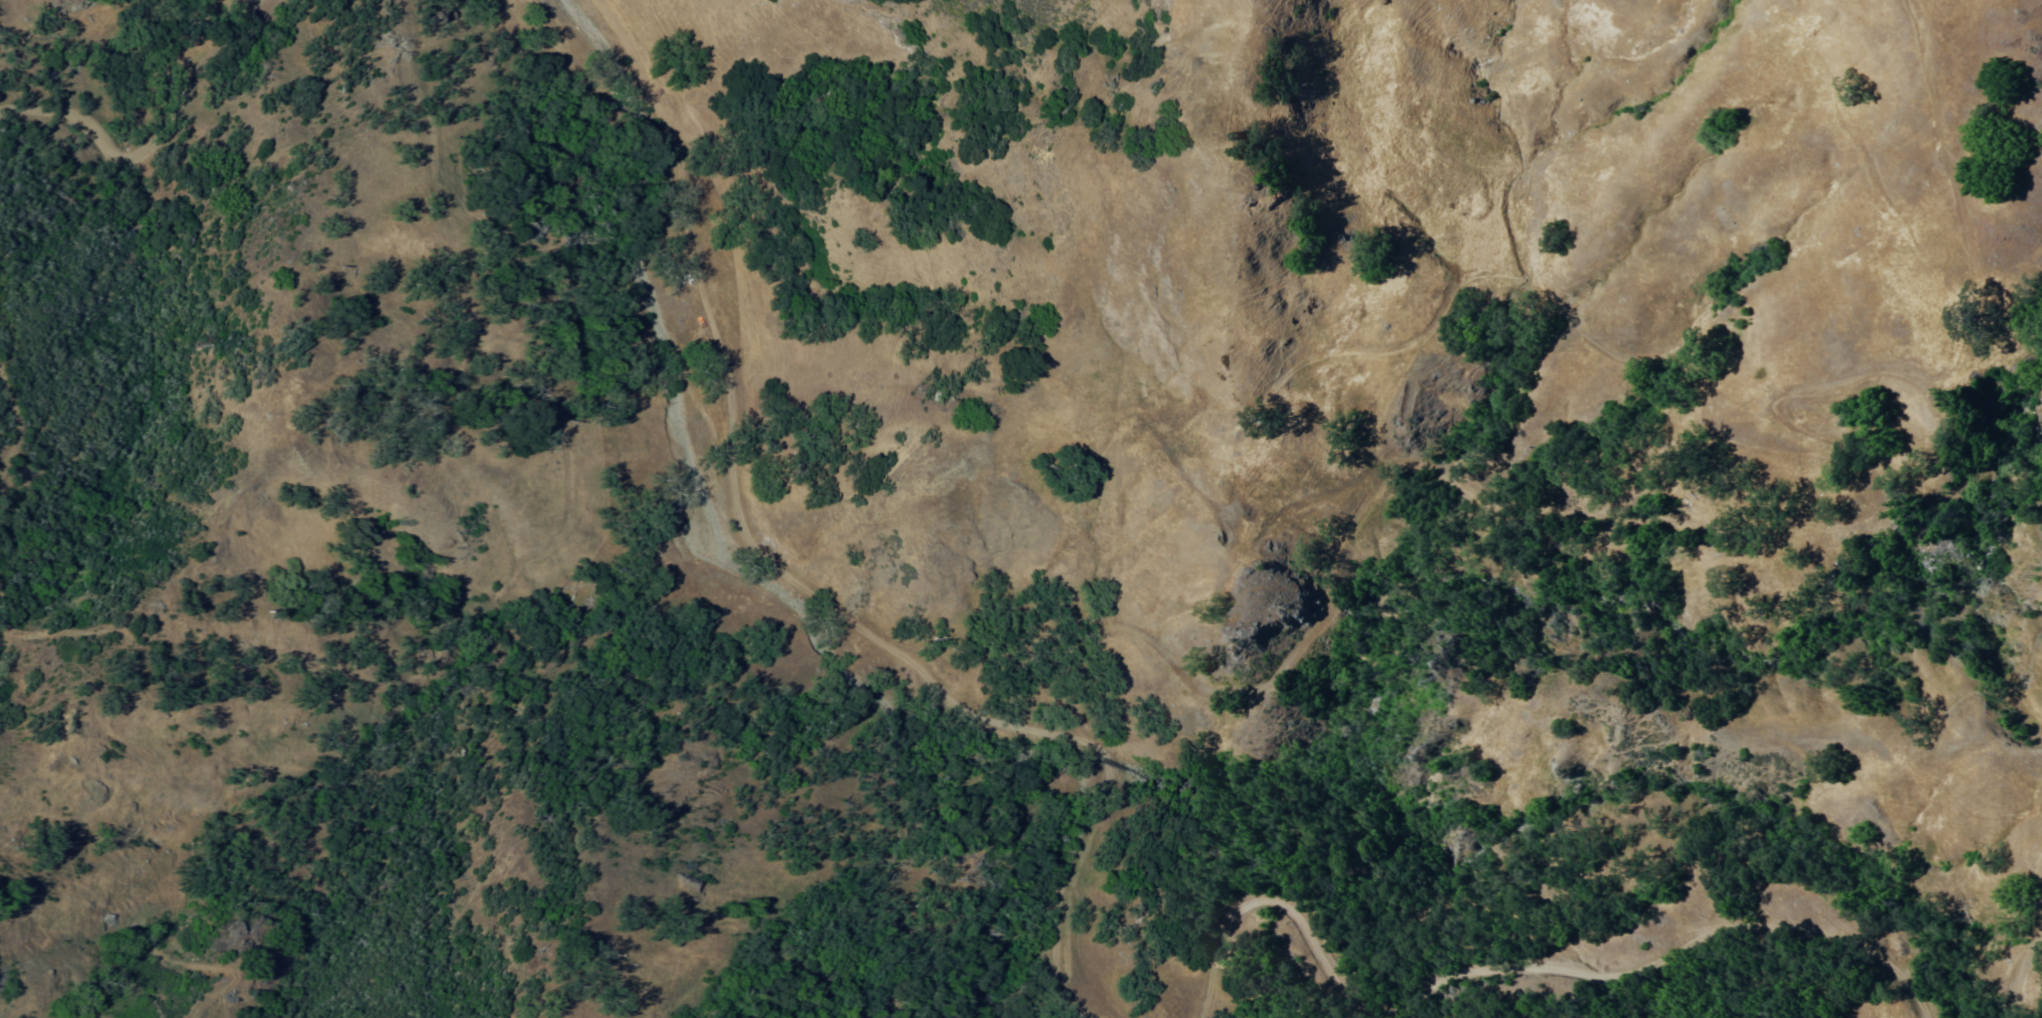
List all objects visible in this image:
road: (799, 582)
road: (1517, 970)
road: (2016, 976)
road: (1067, 986)

